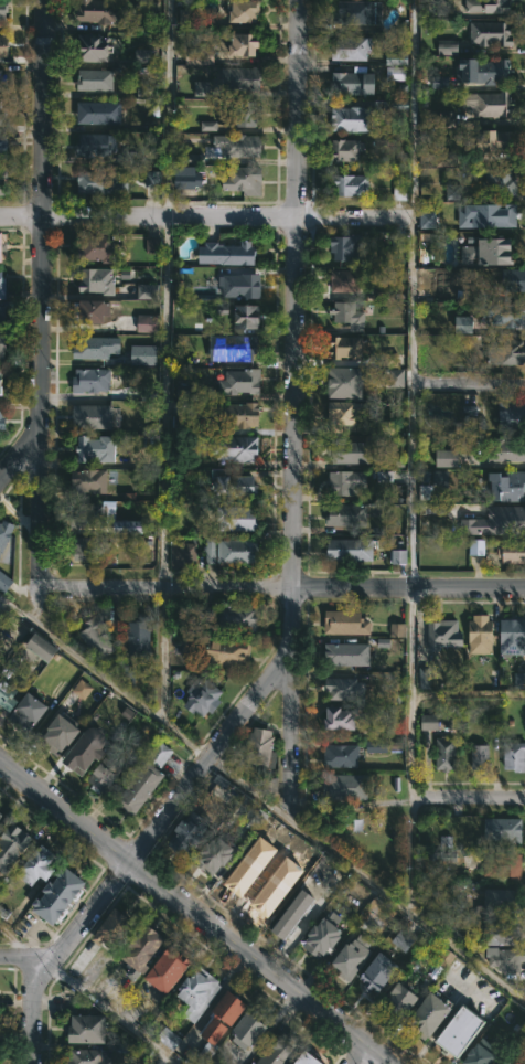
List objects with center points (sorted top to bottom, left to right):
building: (489, 4)
building: (3, 9)
building: (101, 11)
building: (356, 11)
building: (246, 12)
building: (186, 18)
building: (491, 32)
building: (246, 43)
building: (4, 45)
building: (94, 46)
building: (353, 47)
building: (447, 47)
building: (200, 54)
building: (141, 55)
building: (395, 58)
building: (484, 70)
building: (395, 74)
building: (243, 76)
building: (3, 78)
building: (96, 78)
building: (356, 82)
building: (143, 87)
building: (201, 88)
building: (491, 103)
road: (167, 108)
building: (2, 110)
building: (99, 111)
building: (247, 113)
building: (360, 116)
building: (443, 119)
building: (208, 126)
building: (496, 139)
building: (97, 143)
building: (243, 145)
building: (3, 146)
building: (347, 148)
building: (446, 159)
building: (189, 177)
building: (151, 179)
building: (244, 179)
building: (95, 180)
building: (500, 182)
building: (349, 183)
building: (3, 188)
building: (453, 192)
building: (399, 193)
road: (205, 215)
building: (486, 215)
road: (43, 243)
building: (2, 244)
building: (151, 245)
building: (100, 246)
building: (346, 246)
building: (490, 251)
building: (228, 253)
building: (98, 279)
building: (513, 279)
building: (349, 280)
building: (2, 285)
building: (242, 285)
building: (147, 291)
road: (296, 295)
building: (92, 310)
building: (244, 313)
building: (505, 313)
building: (349, 315)
building: (2, 316)
building: (147, 323)
building: (463, 324)
building: (239, 345)
building: (2, 347)
building: (92, 347)
building: (347, 347)
building: (506, 351)
building: (143, 354)
building: (389, 359)
building: (396, 377)
building: (92, 380)
building: (1, 381)
building: (243, 381)
building: (349, 381)
road: (469, 385)
road: (165, 403)
building: (349, 412)
building: (512, 413)
building: (237, 415)
building: (93, 416)
building: (0, 417)
building: (386, 427)
building: (98, 447)
building: (237, 447)
building: (506, 450)
building: (351, 451)
building: (446, 458)
road: (414, 459)
building: (439, 479)
building: (347, 481)
building: (87, 483)
building: (237, 486)
building: (510, 486)
road: (39, 498)
building: (347, 514)
building: (94, 515)
building: (237, 518)
building: (513, 523)
building: (129, 528)
building: (4, 534)
building: (475, 546)
building: (94, 549)
building: (228, 550)
building: (352, 550)
building: (512, 552)
building: (184, 555)
building: (398, 556)
building: (4, 582)
road: (409, 588)
road: (167, 590)
building: (238, 618)
building: (346, 621)
building: (397, 629)
building: (482, 634)
building: (444, 635)
building: (98, 636)
building: (140, 636)
building: (513, 637)
building: (42, 647)
building: (228, 652)
building: (351, 653)
building: (1, 658)
road: (162, 658)
building: (424, 677)
building: (519, 680)
building: (345, 688)
building: (82, 689)
building: (8, 691)
building: (202, 696)
building: (30, 711)
building: (341, 716)
building: (429, 722)
road: (287, 730)
building: (61, 733)
building: (375, 746)
building: (261, 748)
building: (446, 753)
building: (342, 756)
building: (514, 756)
building: (481, 757)
building: (94, 760)
building: (146, 779)
building: (347, 787)
road: (469, 799)
road: (392, 800)
road: (261, 805)
building: (1, 813)
building: (253, 817)
road: (157, 826)
building: (504, 830)
building: (190, 833)
building: (12, 847)
building: (215, 854)
building: (40, 863)
building: (503, 865)
building: (243, 871)
building: (60, 895)
building: (500, 901)
road: (197, 908)
building: (296, 915)
building: (115, 929)
building: (502, 933)
building: (324, 934)
building: (401, 940)
building: (142, 954)
building: (354, 957)
building: (444, 957)
building: (506, 958)
road: (22, 961)
building: (170, 970)
building: (377, 972)
building: (199, 992)
road: (85, 994)
building: (405, 1001)
building: (223, 1017)
building: (430, 1017)
building: (251, 1029)
building: (88, 1030)
building: (462, 1033)
building: (168, 1038)
building: (280, 1050)
road: (361, 1053)
building: (201, 1054)
building: (483, 1054)
building: (89, 1056)
building: (309, 1058)
road: (169, 1061)

